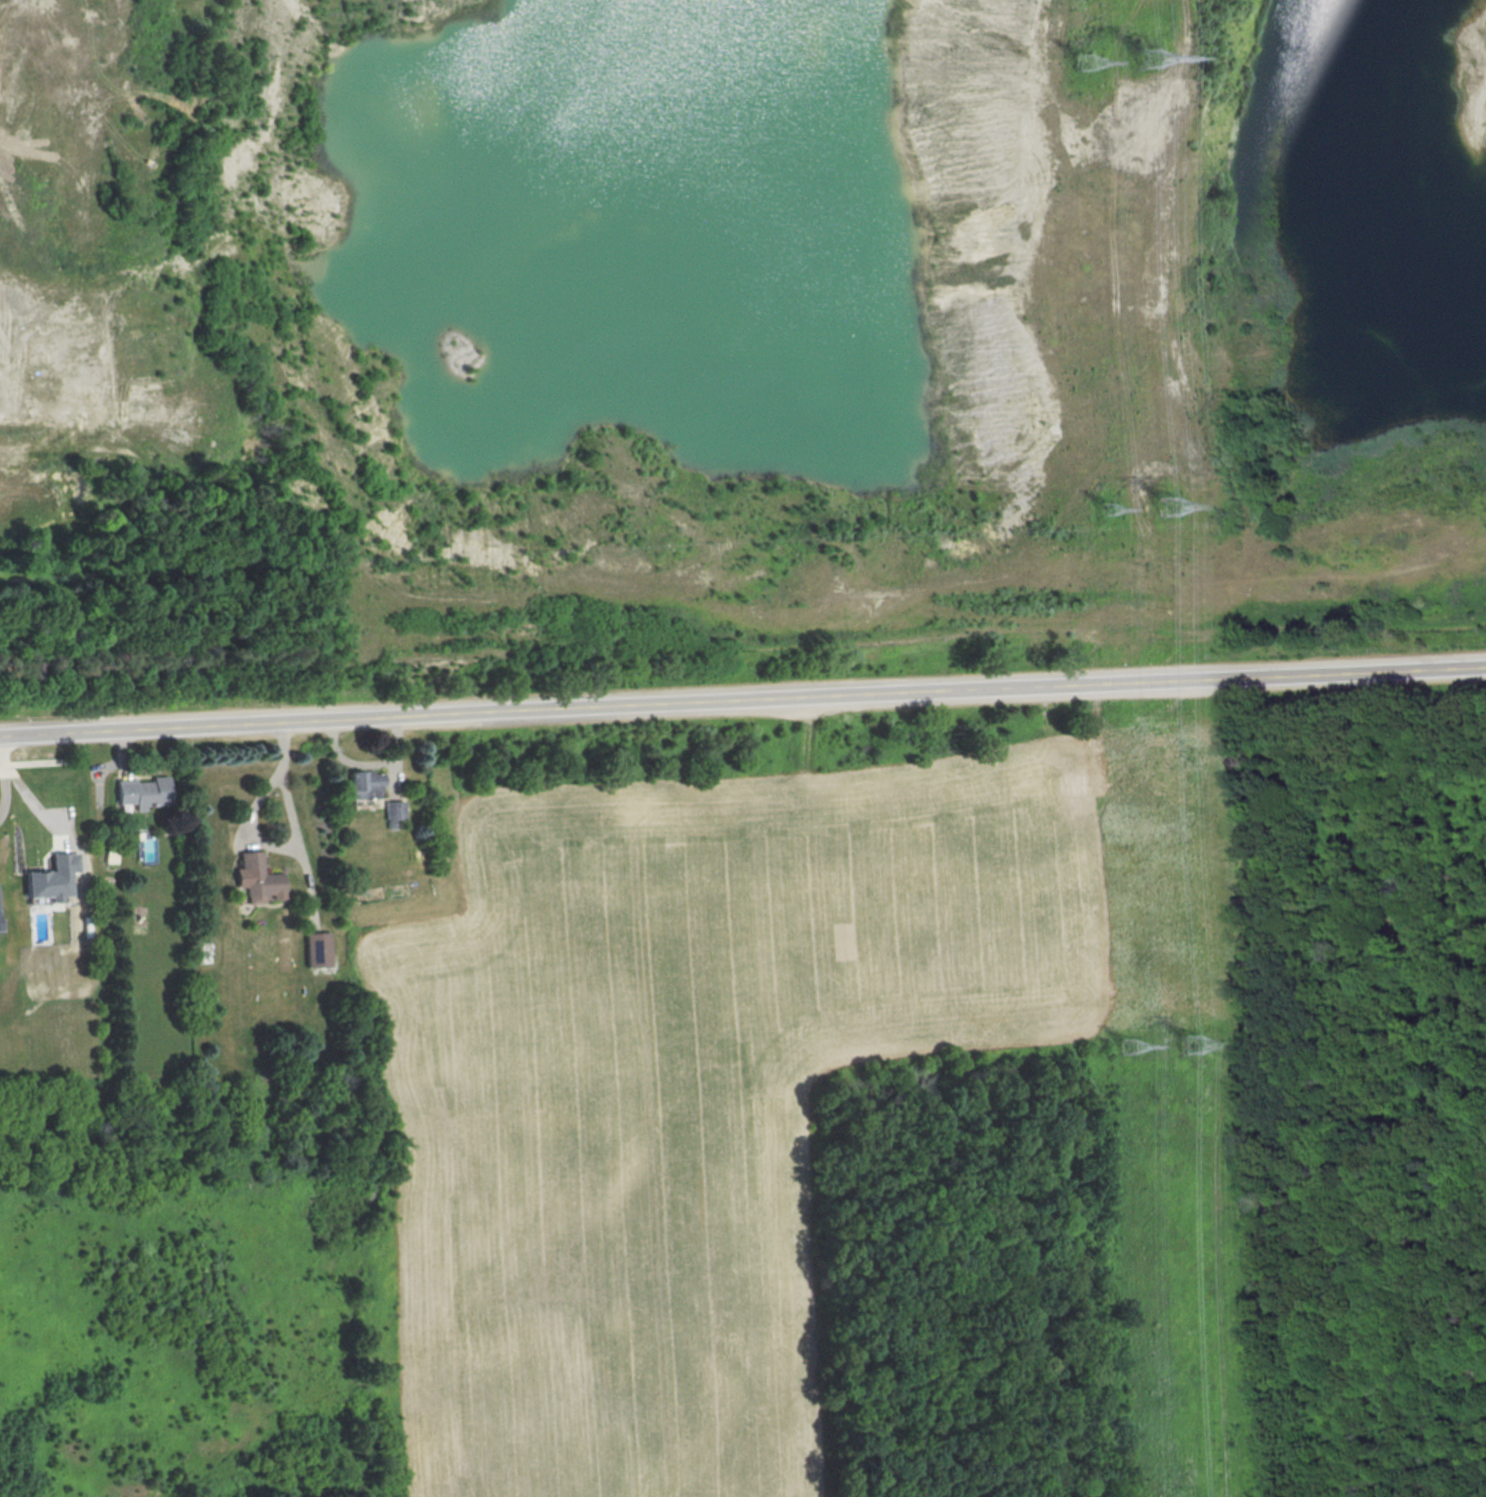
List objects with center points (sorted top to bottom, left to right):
power tower: (1145, 61)
power tower: (1084, 65)
power tower: (1166, 508)
power tower: (1106, 509)
road: (742, 700)
building: (367, 785)
road: (3, 787)
building: (143, 791)
building: (394, 809)
road: (291, 843)
building: (53, 877)
building: (256, 877)
building: (1, 924)
building: (317, 949)
power tower: (1187, 1044)
power tower: (1130, 1047)
park: (1371, 1084)
crop: (686, 1093)
park: (616, 1149)
road: (274, 1410)

